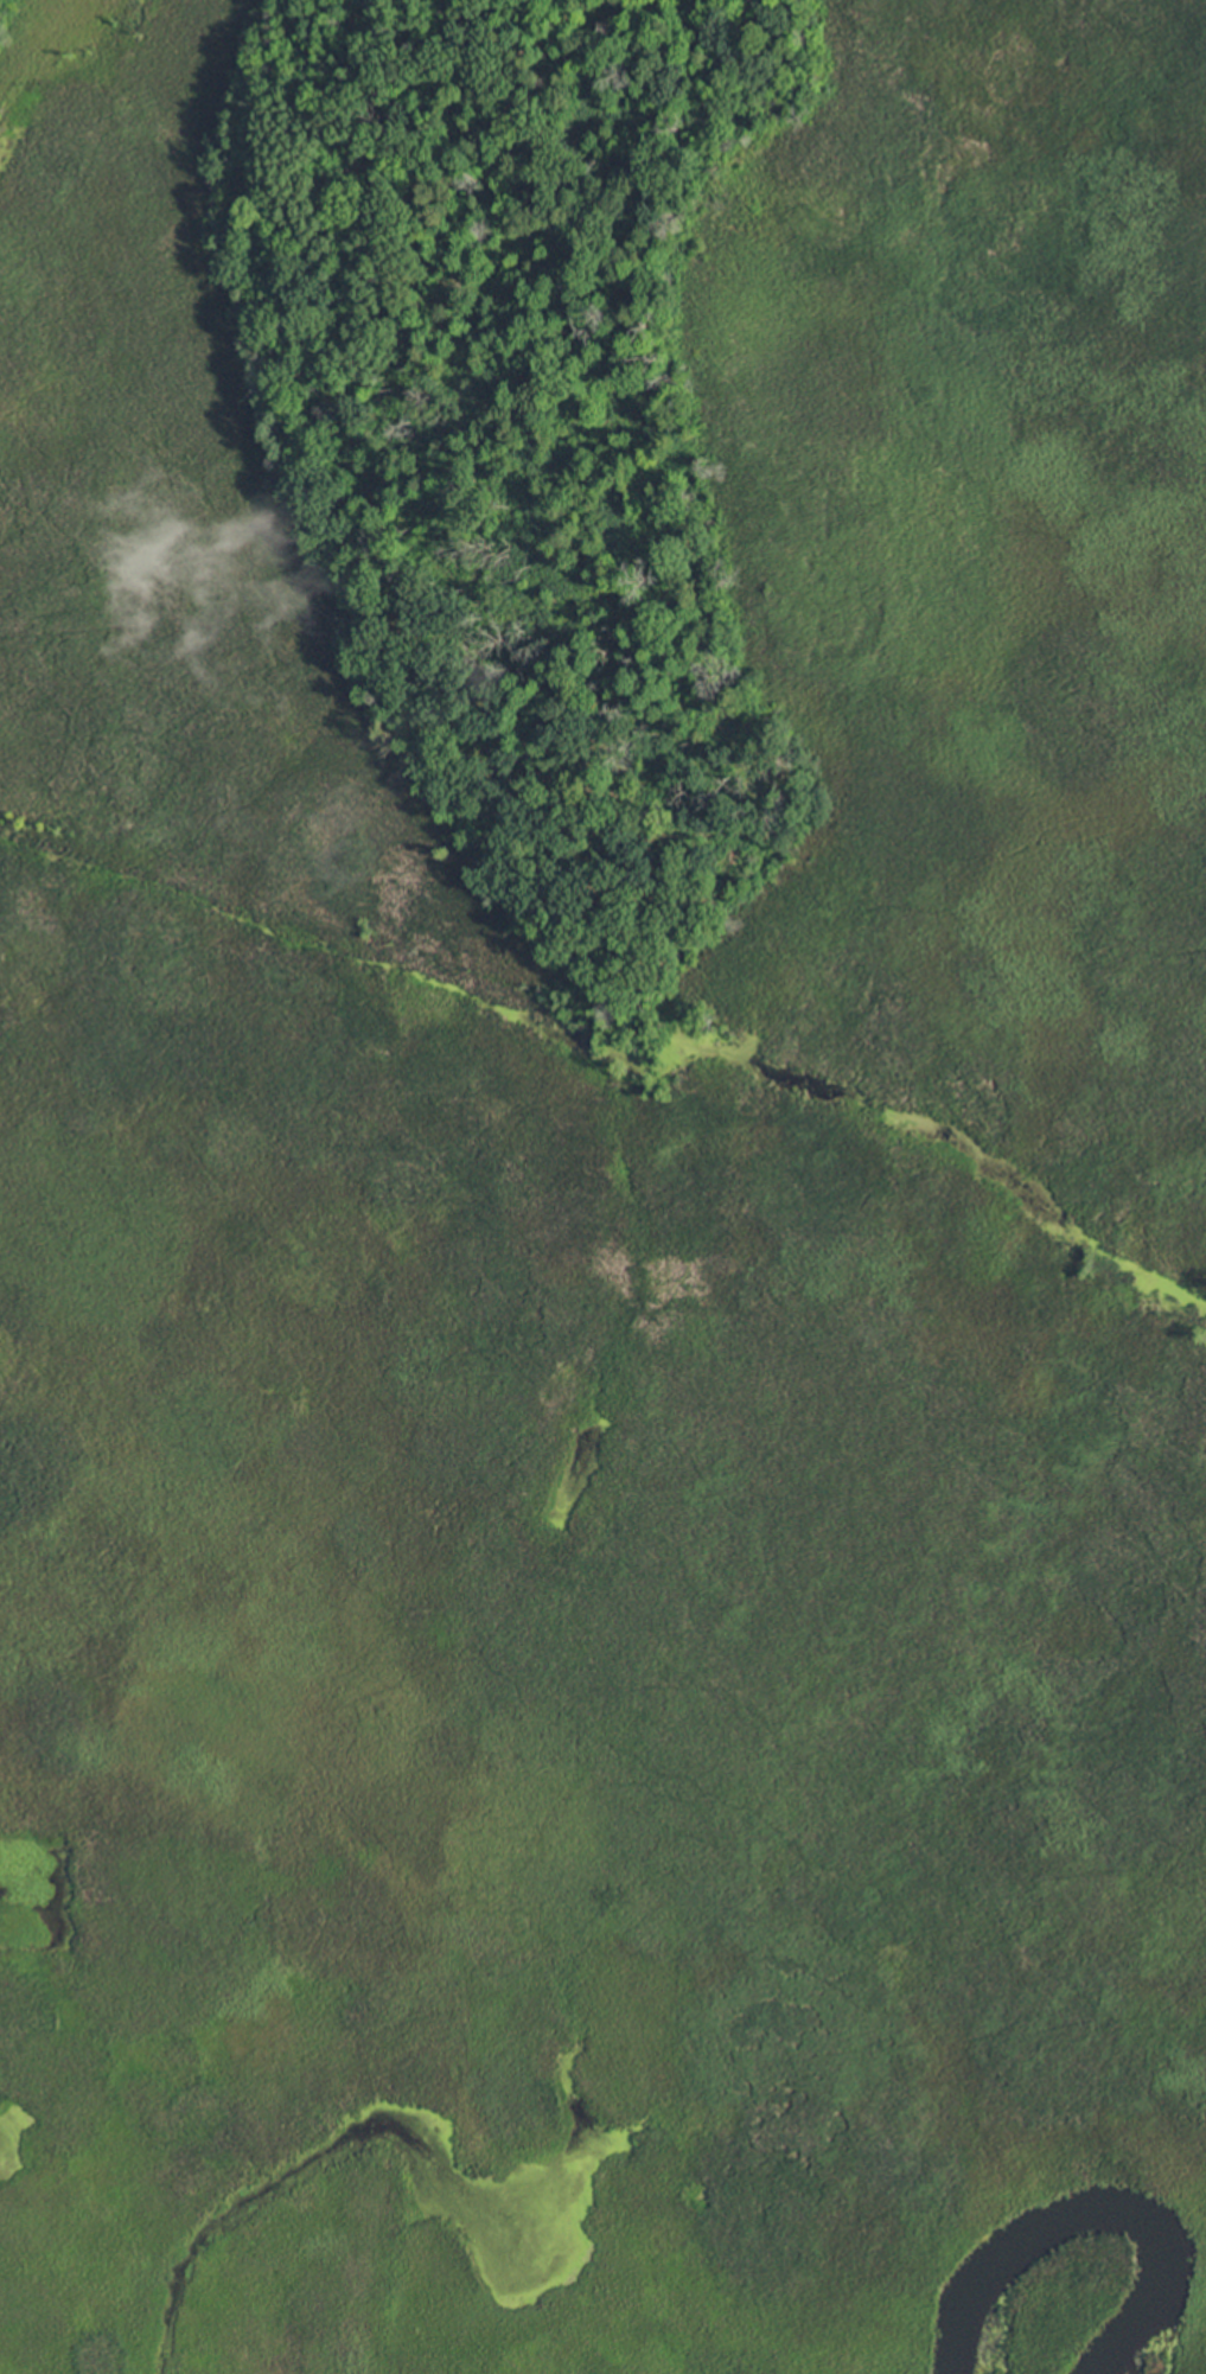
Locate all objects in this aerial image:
river: (1104, 2216)

